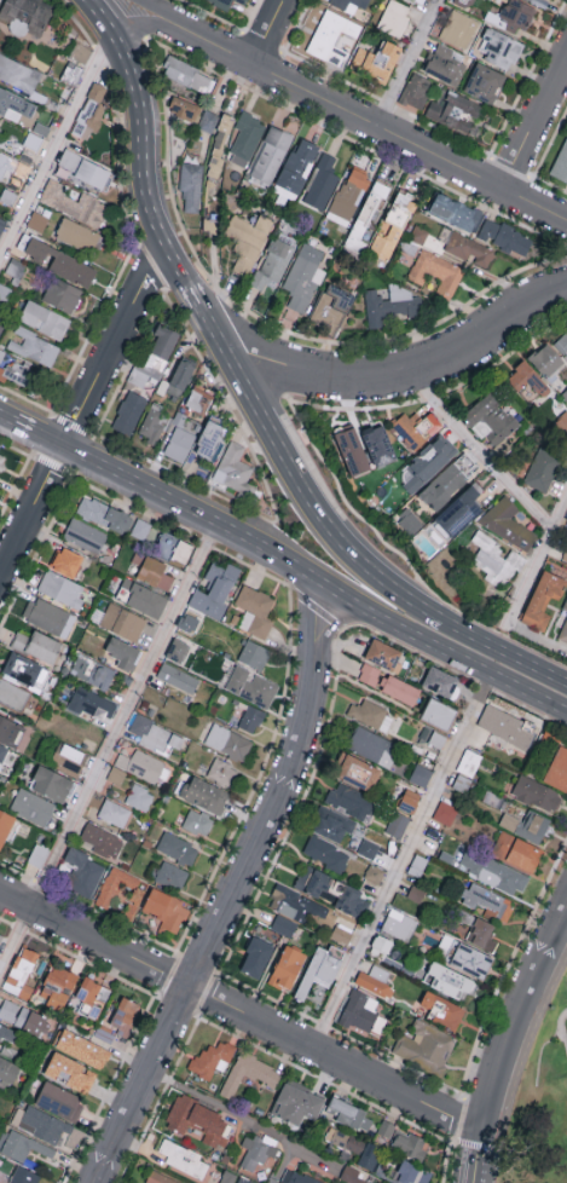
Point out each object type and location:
building: (415, 0)
building: (527, 0)
building: (242, 1)
building: (537, 1)
building: (221, 2)
building: (352, 4)
building: (462, 4)
building: (25, 12)
road: (100, 16)
road: (163, 16)
building: (394, 17)
building: (511, 17)
road: (152, 25)
road: (266, 31)
building: (458, 31)
road: (114, 34)
road: (220, 48)
building: (499, 50)
building: (79, 51)
building: (377, 60)
road: (407, 63)
building: (444, 65)
building: (18, 74)
building: (186, 77)
building: (484, 85)
building: (413, 94)
building: (15, 105)
building: (91, 109)
building: (452, 110)
building: (195, 116)
building: (0, 120)
road: (534, 123)
building: (245, 137)
building: (220, 143)
road: (409, 143)
road: (56, 144)
building: (267, 160)
building: (560, 165)
building: (296, 168)
building: (82, 171)
building: (17, 174)
road: (145, 174)
building: (190, 185)
building: (322, 185)
building: (52, 191)
building: (346, 201)
building: (92, 212)
building: (455, 215)
building: (37, 221)
building: (364, 221)
building: (1, 224)
building: (392, 230)
building: (79, 235)
building: (504, 240)
building: (247, 242)
building: (453, 247)
building: (60, 262)
building: (272, 264)
building: (434, 273)
building: (301, 281)
building: (62, 295)
building: (388, 306)
building: (329, 308)
building: (45, 321)
building: (0, 328)
building: (561, 345)
building: (33, 351)
building: (152, 359)
building: (545, 362)
road: (399, 370)
building: (23, 380)
building: (174, 382)
building: (527, 383)
building: (565, 396)
building: (198, 402)
road: (83, 414)
road: (5, 415)
building: (128, 416)
building: (490, 426)
building: (150, 428)
building: (413, 431)
building: (357, 438)
building: (178, 440)
building: (209, 440)
building: (378, 443)
road: (476, 450)
building: (1, 458)
building: (1, 463)
building: (428, 464)
building: (232, 469)
building: (542, 469)
building: (444, 484)
building: (458, 514)
building: (104, 517)
building: (507, 525)
building: (563, 526)
building: (139, 530)
road: (341, 536)
building: (85, 537)
building: (162, 552)
building: (565, 554)
building: (68, 560)
building: (492, 560)
road: (537, 560)
road: (288, 566)
building: (152, 575)
building: (62, 588)
building: (215, 593)
building: (141, 596)
building: (540, 601)
building: (565, 607)
building: (254, 612)
building: (48, 614)
building: (122, 621)
building: (189, 621)
building: (562, 634)
building: (37, 644)
building: (178, 648)
building: (122, 651)
building: (254, 653)
building: (380, 656)
building: (25, 669)
building: (93, 673)
building: (368, 676)
building: (177, 677)
building: (250, 685)
building: (439, 685)
building: (398, 692)
building: (12, 693)
building: (92, 703)
building: (371, 714)
building: (250, 717)
building: (438, 717)
building: (7, 728)
building: (503, 729)
building: (156, 734)
building: (228, 741)
building: (372, 745)
building: (2, 750)
road: (108, 750)
building: (66, 757)
building: (141, 764)
building: (557, 771)
building: (222, 772)
building: (355, 773)
building: (116, 774)
building: (421, 774)
building: (51, 783)
building: (204, 794)
building: (537, 794)
building: (139, 797)
building: (410, 800)
building: (349, 802)
building: (31, 806)
building: (114, 812)
building: (445, 812)
building: (197, 821)
building: (5, 824)
building: (332, 824)
building: (398, 824)
building: (526, 825)
building: (103, 839)
building: (178, 848)
building: (368, 848)
building: (516, 850)
building: (326, 853)
road: (403, 861)
building: (80, 871)
building: (492, 871)
building: (375, 873)
building: (172, 875)
building: (312, 879)
road: (237, 893)
building: (415, 894)
building: (352, 900)
building: (487, 900)
building: (166, 908)
building: (287, 908)
building: (399, 924)
building: (341, 934)
building: (482, 934)
building: (0, 935)
building: (381, 945)
building: (256, 957)
building: (471, 959)
building: (287, 966)
building: (320, 966)
building: (21, 973)
building: (375, 980)
building: (450, 980)
building: (57, 986)
building: (92, 997)
building: (442, 1009)
road: (241, 1010)
building: (363, 1012)
building: (23, 1017)
building: (125, 1018)
road: (562, 1027)
building: (7, 1033)
building: (103, 1033)
road: (513, 1044)
building: (426, 1046)
building: (82, 1048)
road: (540, 1051)
building: (210, 1058)
building: (8, 1071)
road: (521, 1071)
building: (70, 1072)
building: (249, 1073)
building: (59, 1101)
building: (297, 1102)
park: (543, 1110)
road: (226, 1112)
building: (352, 1113)
building: (198, 1119)
building: (44, 1124)
building: (386, 1127)
building: (410, 1143)
building: (21, 1144)
building: (354, 1146)
building: (255, 1152)
building: (187, 1161)
building: (24, 1175)
building: (351, 1175)
building: (299, 1177)
building: (160, 1178)
building: (243, 1179)

